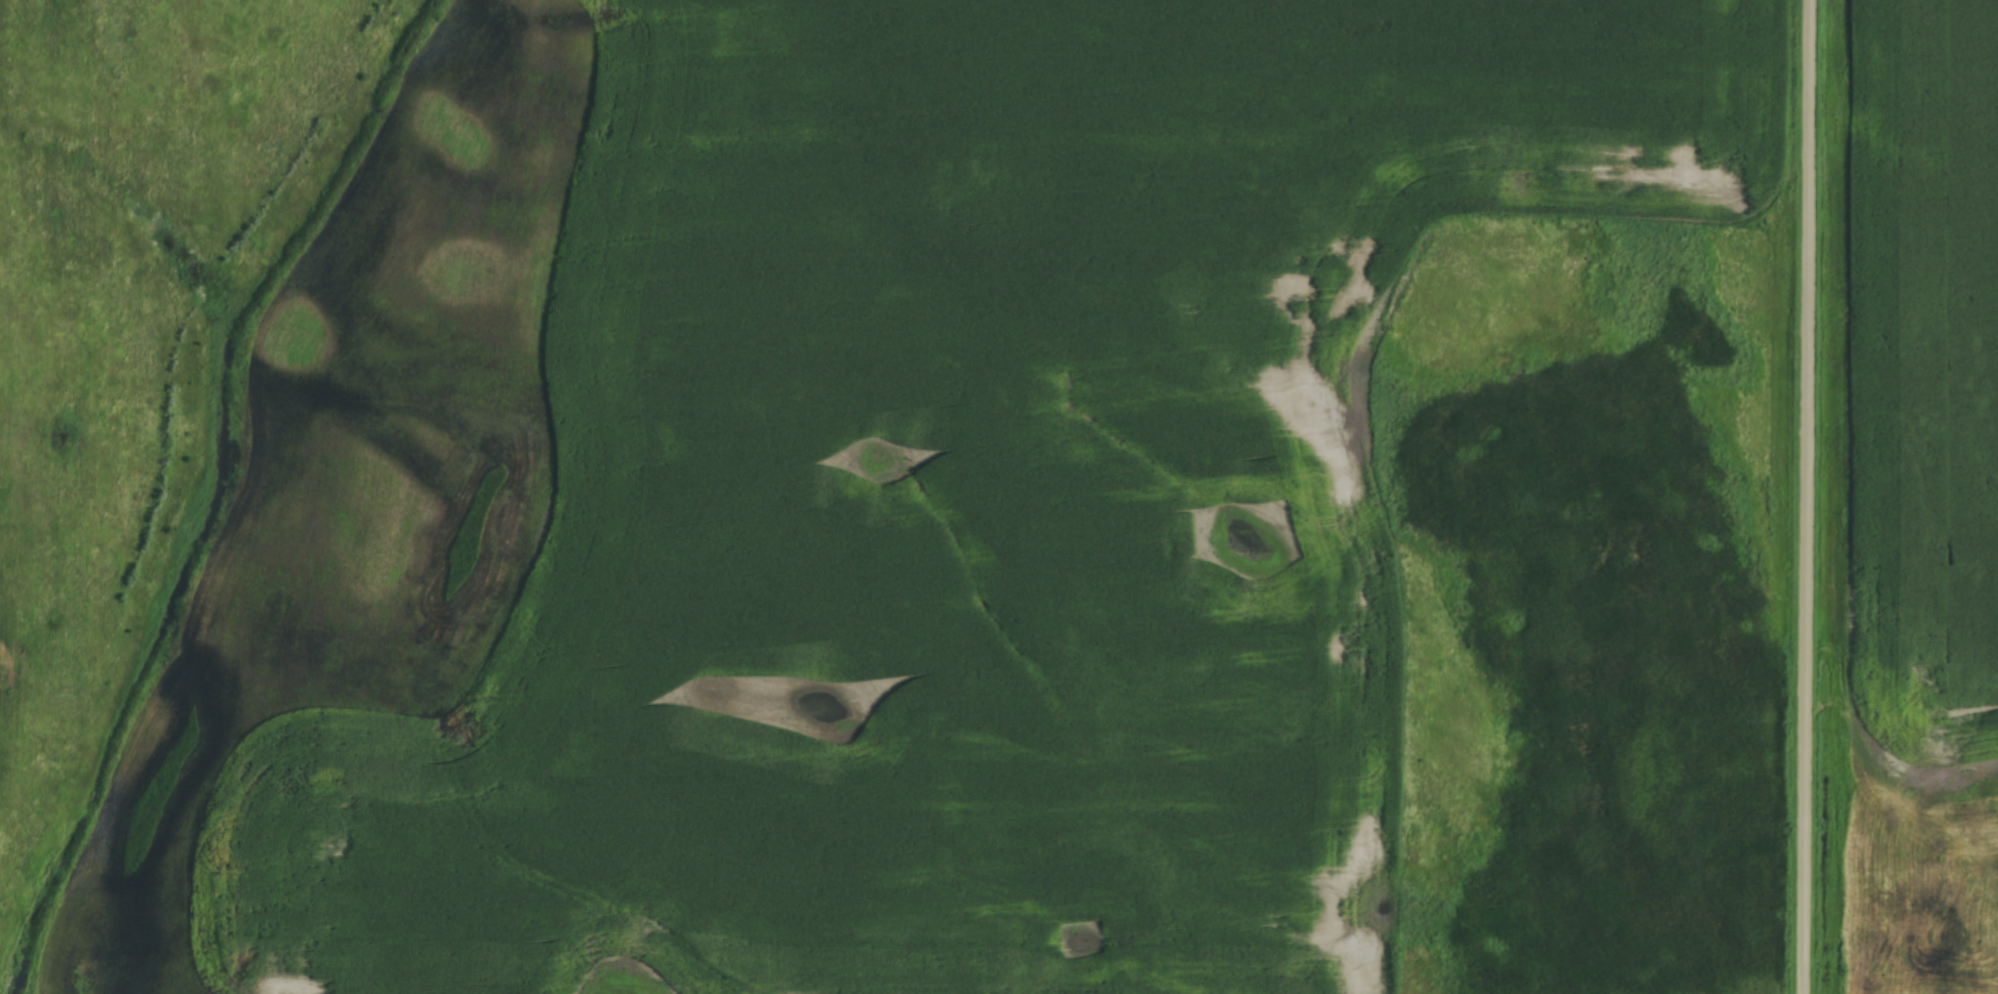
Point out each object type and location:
road: (1808, 497)

